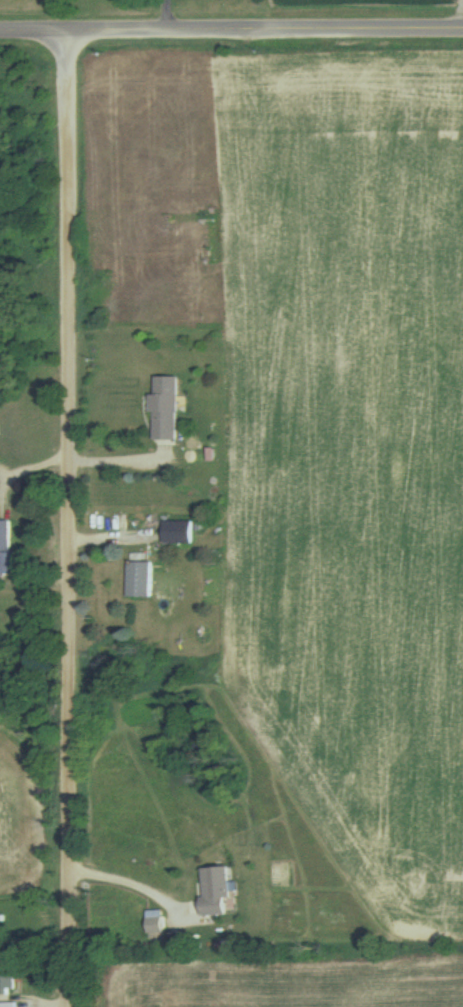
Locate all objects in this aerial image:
road: (173, 14)
road: (231, 28)
building: (164, 410)
road: (73, 517)
building: (180, 523)
building: (7, 529)
building: (143, 570)
road: (138, 883)
building: (216, 883)
building: (155, 912)
building: (8, 1005)

